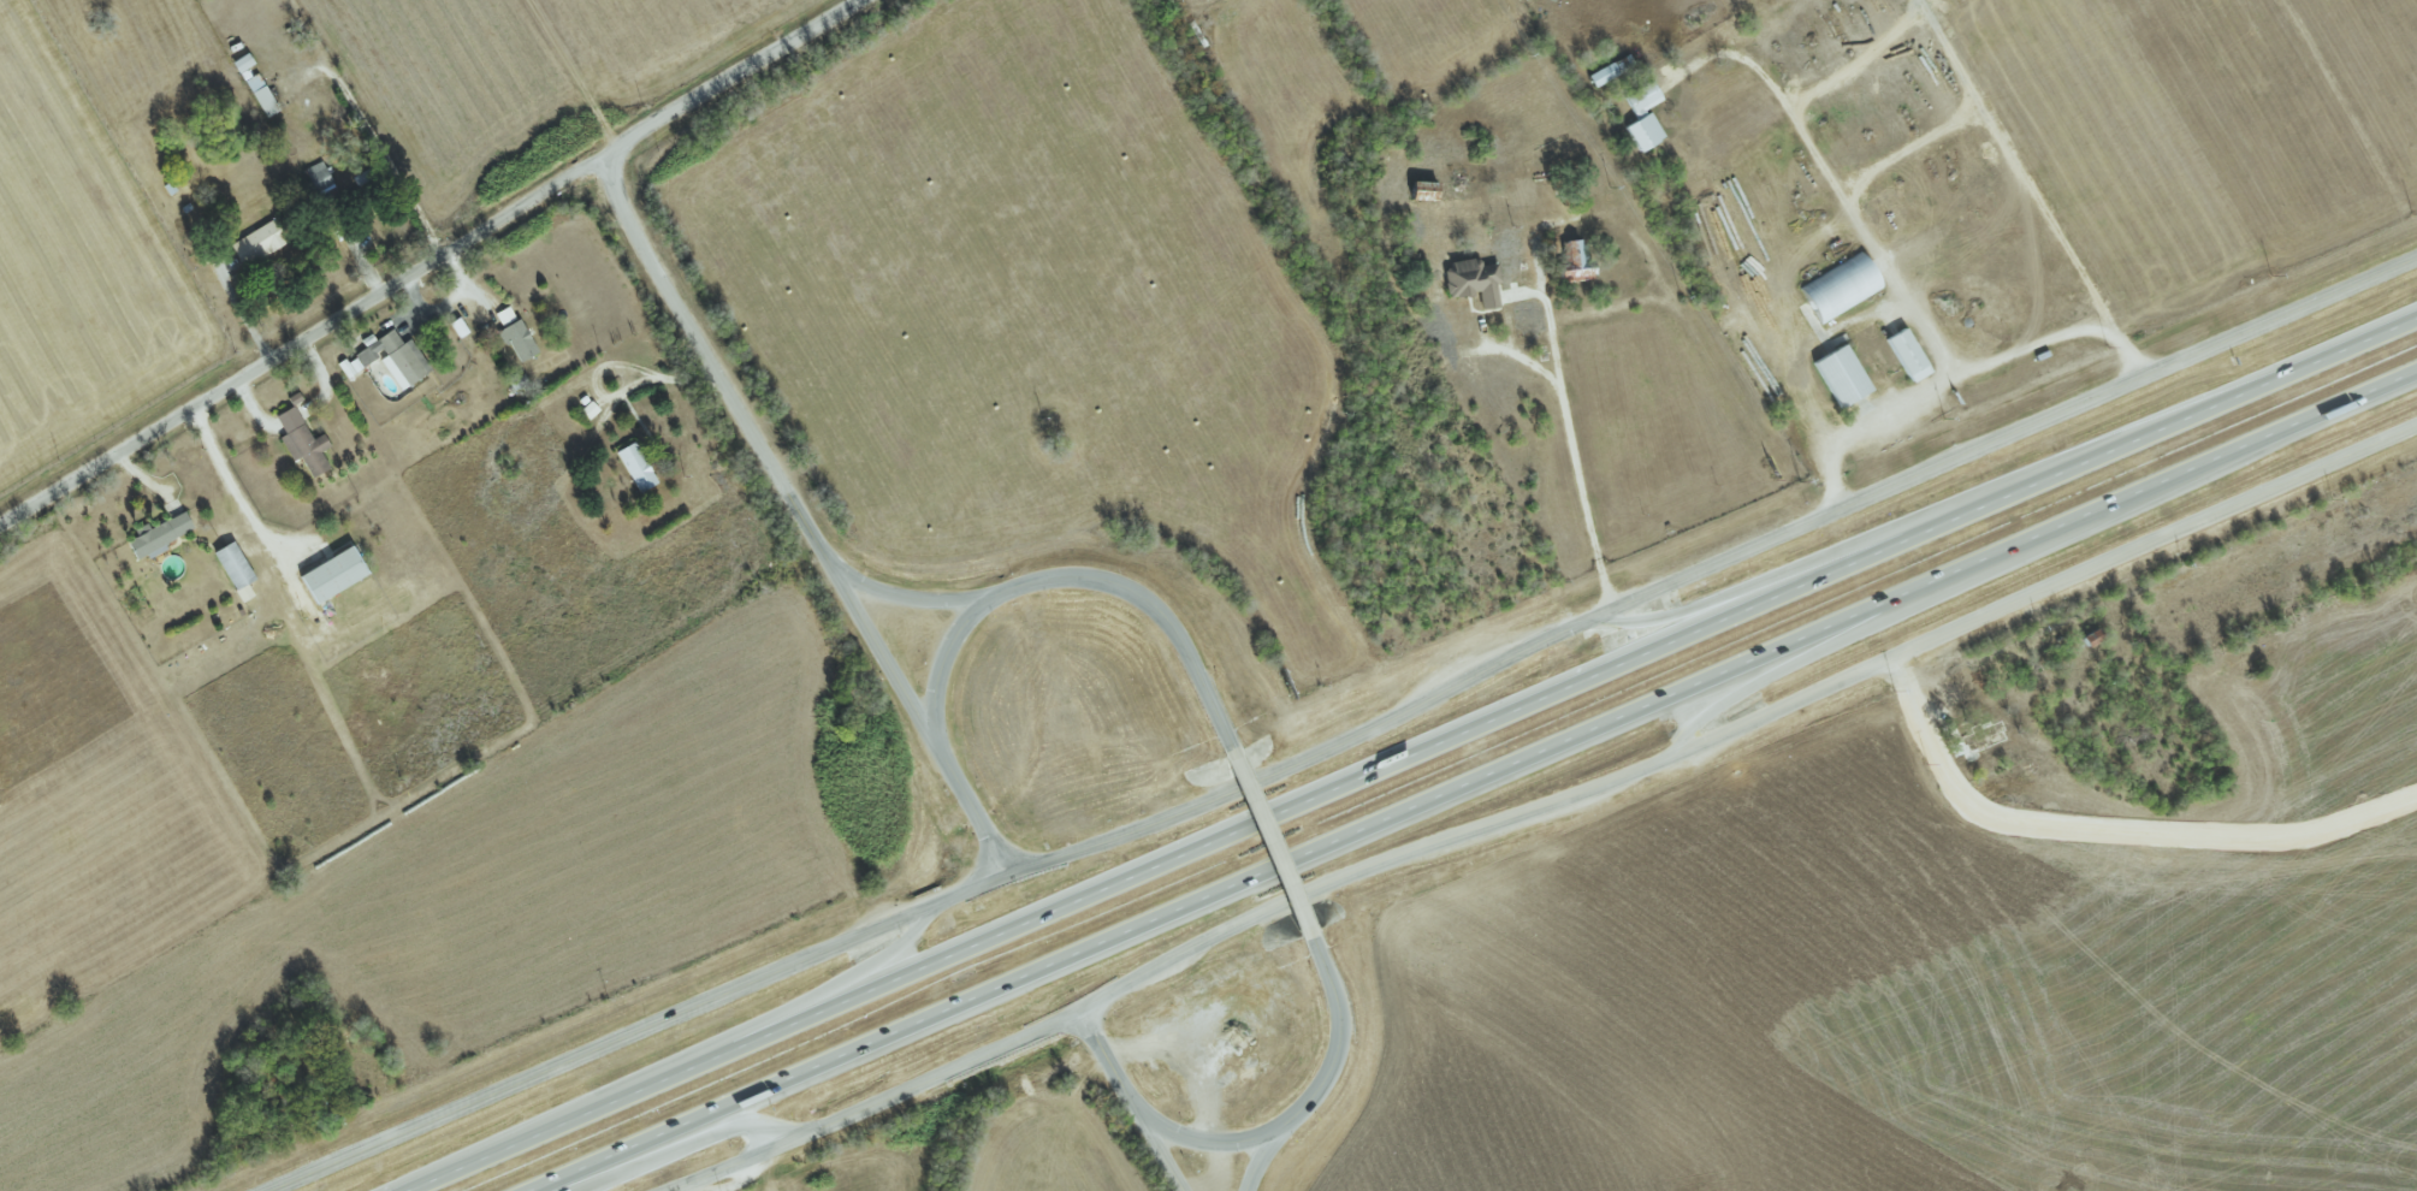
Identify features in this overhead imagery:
building: (244, 61)
building: (1606, 71)
building: (262, 94)
building: (1643, 115)
road: (389, 162)
road: (2025, 174)
building: (260, 241)
building: (1576, 261)
road: (431, 262)
road: (1884, 269)
building: (1475, 279)
building: (1842, 286)
road: (448, 301)
building: (505, 315)
building: (519, 338)
road: (2050, 344)
building: (1909, 354)
building: (396, 357)
building: (1843, 375)
building: (303, 442)
road: (762, 449)
building: (638, 466)
road: (1577, 469)
road: (2009, 481)
road: (233, 493)
building: (159, 534)
road: (2033, 556)
building: (235, 564)
road: (1713, 567)
building: (334, 574)
road: (907, 597)
road: (1155, 606)
road: (943, 657)
road: (1748, 724)
road: (1415, 756)
road: (1477, 783)
road: (971, 808)
road: (1273, 842)
road: (642, 1031)
road: (742, 1033)
road: (1341, 1037)
road: (1106, 1056)
road: (878, 1103)
road: (1204, 1143)
road: (1159, 1146)
road: (688, 1148)
road: (1266, 1159)

